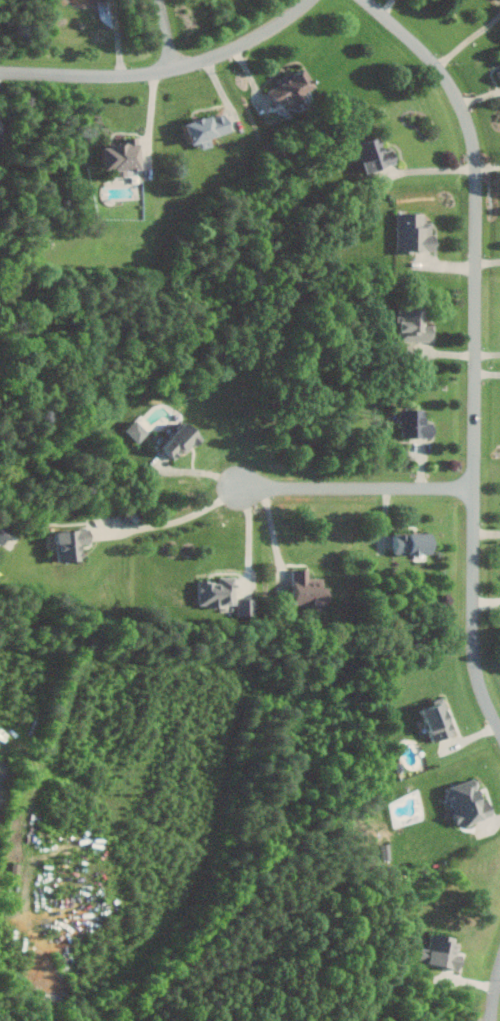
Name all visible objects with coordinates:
road: (168, 33)
road: (117, 37)
road: (469, 40)
building: (499, 51)
road: (164, 70)
building: (499, 72)
building: (293, 86)
road: (152, 119)
building: (209, 129)
building: (125, 155)
building: (376, 155)
road: (429, 170)
road: (477, 223)
building: (415, 233)
road: (488, 261)
building: (415, 324)
road: (488, 353)
road: (488, 372)
building: (417, 422)
building: (136, 430)
building: (182, 439)
road: (360, 486)
road: (181, 518)
building: (4, 533)
road: (487, 533)
road: (250, 535)
road: (276, 535)
building: (73, 542)
building: (414, 542)
building: (309, 587)
building: (219, 591)
building: (247, 606)
road: (474, 610)
building: (439, 720)
building: (470, 801)
building: (386, 852)
road: (10, 915)
building: (445, 951)
road: (493, 993)

